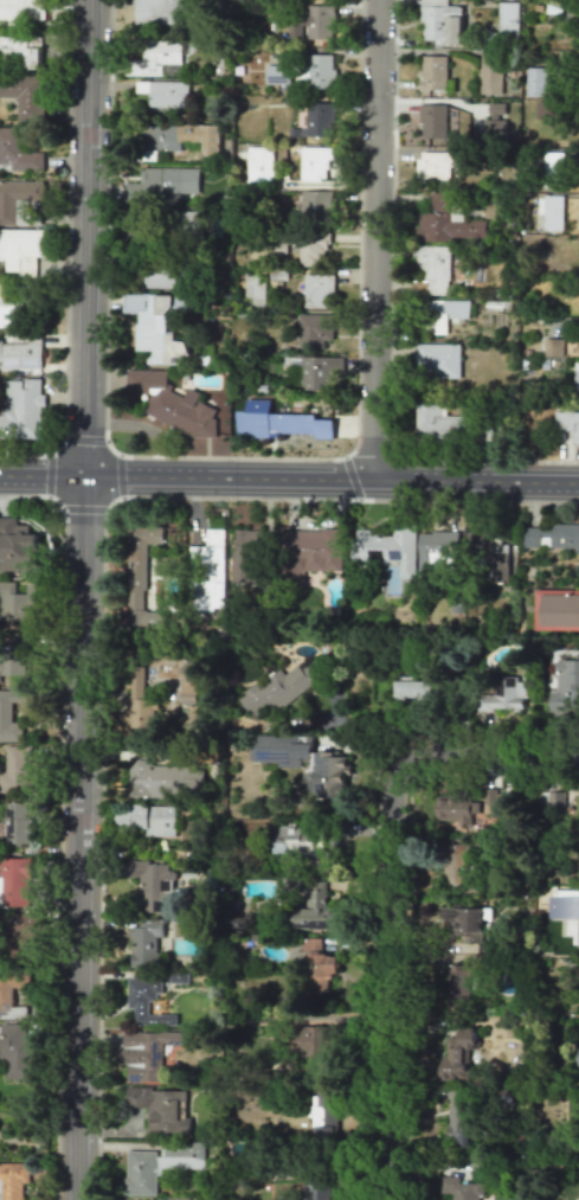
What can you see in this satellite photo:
building: (21, 9)
building: (157, 12)
building: (507, 17)
building: (320, 21)
building: (439, 21)
building: (19, 49)
road: (425, 49)
building: (155, 57)
building: (316, 71)
building: (433, 72)
building: (490, 72)
building: (167, 94)
building: (25, 95)
building: (546, 109)
building: (495, 116)
building: (319, 120)
building: (432, 121)
building: (182, 136)
building: (19, 150)
building: (553, 160)
building: (314, 163)
building: (259, 165)
building: (436, 165)
building: (163, 182)
building: (17, 197)
building: (552, 212)
building: (446, 223)
building: (305, 229)
road: (374, 239)
building: (20, 249)
building: (432, 268)
building: (159, 274)
building: (255, 287)
building: (319, 290)
building: (6, 303)
building: (445, 313)
building: (154, 327)
building: (315, 331)
building: (552, 347)
building: (577, 347)
building: (20, 352)
building: (437, 360)
building: (320, 373)
building: (577, 381)
building: (173, 403)
building: (21, 409)
building: (279, 422)
building: (437, 423)
building: (567, 423)
traffic signals: (83, 477)
road: (350, 477)
road: (289, 479)
street lamp: (348, 502)
road: (96, 509)
building: (555, 537)
building: (17, 546)
building: (385, 548)
building: (313, 550)
building: (436, 551)
building: (245, 557)
building: (498, 566)
building: (210, 573)
building: (140, 580)
road: (81, 599)
building: (17, 602)
building: (555, 609)
building: (13, 654)
building: (279, 687)
building: (412, 688)
building: (565, 688)
building: (186, 689)
building: (502, 694)
building: (140, 704)
building: (5, 712)
building: (303, 763)
building: (15, 770)
building: (163, 778)
building: (552, 800)
building: (453, 809)
building: (147, 819)
building: (17, 822)
building: (298, 841)
building: (456, 862)
building: (13, 880)
building: (152, 885)
road: (392, 893)
building: (571, 909)
building: (314, 910)
building: (462, 922)
building: (240, 924)
building: (22, 930)
building: (578, 939)
building: (144, 942)
building: (317, 960)
building: (457, 983)
building: (319, 984)
building: (11, 992)
building: (146, 1000)
building: (310, 1040)
building: (15, 1050)
building: (146, 1053)
building: (457, 1053)
building: (578, 1058)
building: (161, 1109)
building: (323, 1114)
building: (458, 1122)
building: (157, 1164)
building: (13, 1180)
building: (0, 1187)
building: (462, 1188)
building: (321, 1189)

